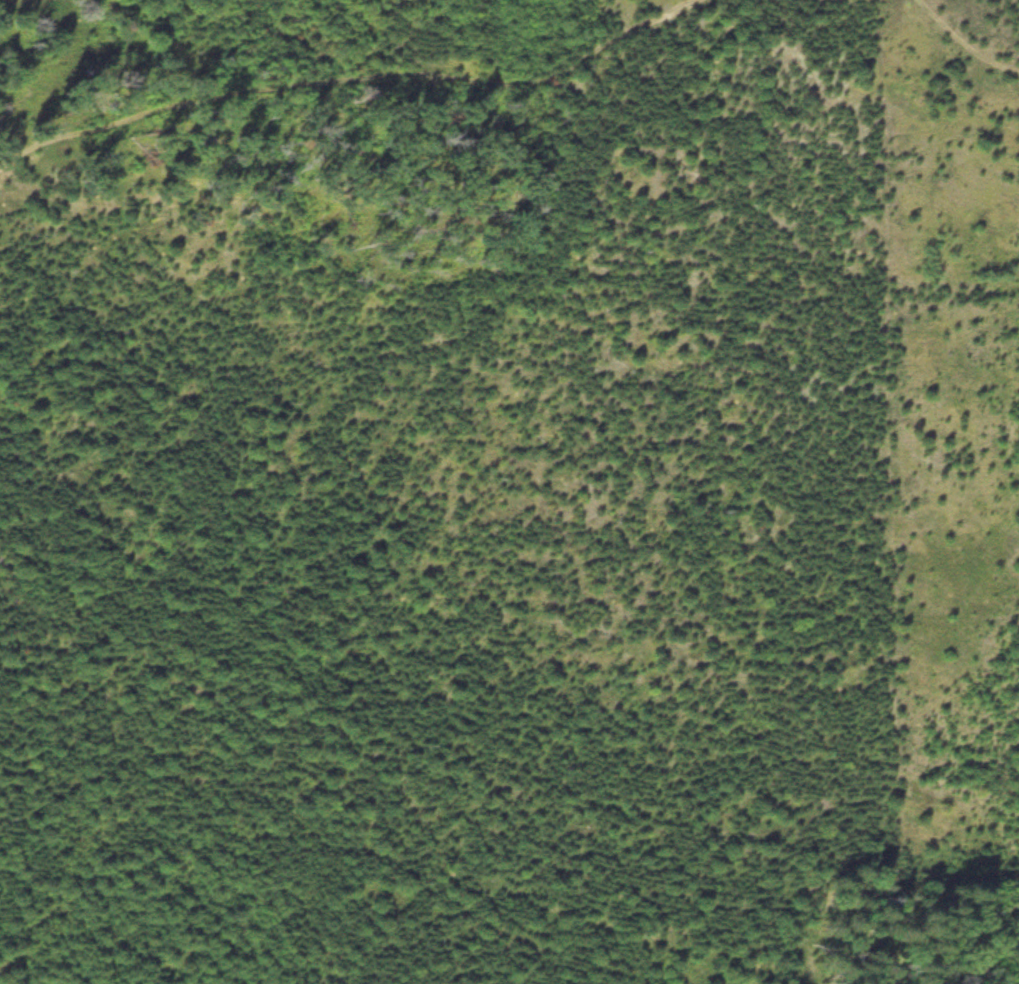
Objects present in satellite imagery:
road: (971, 38)
road: (352, 77)

